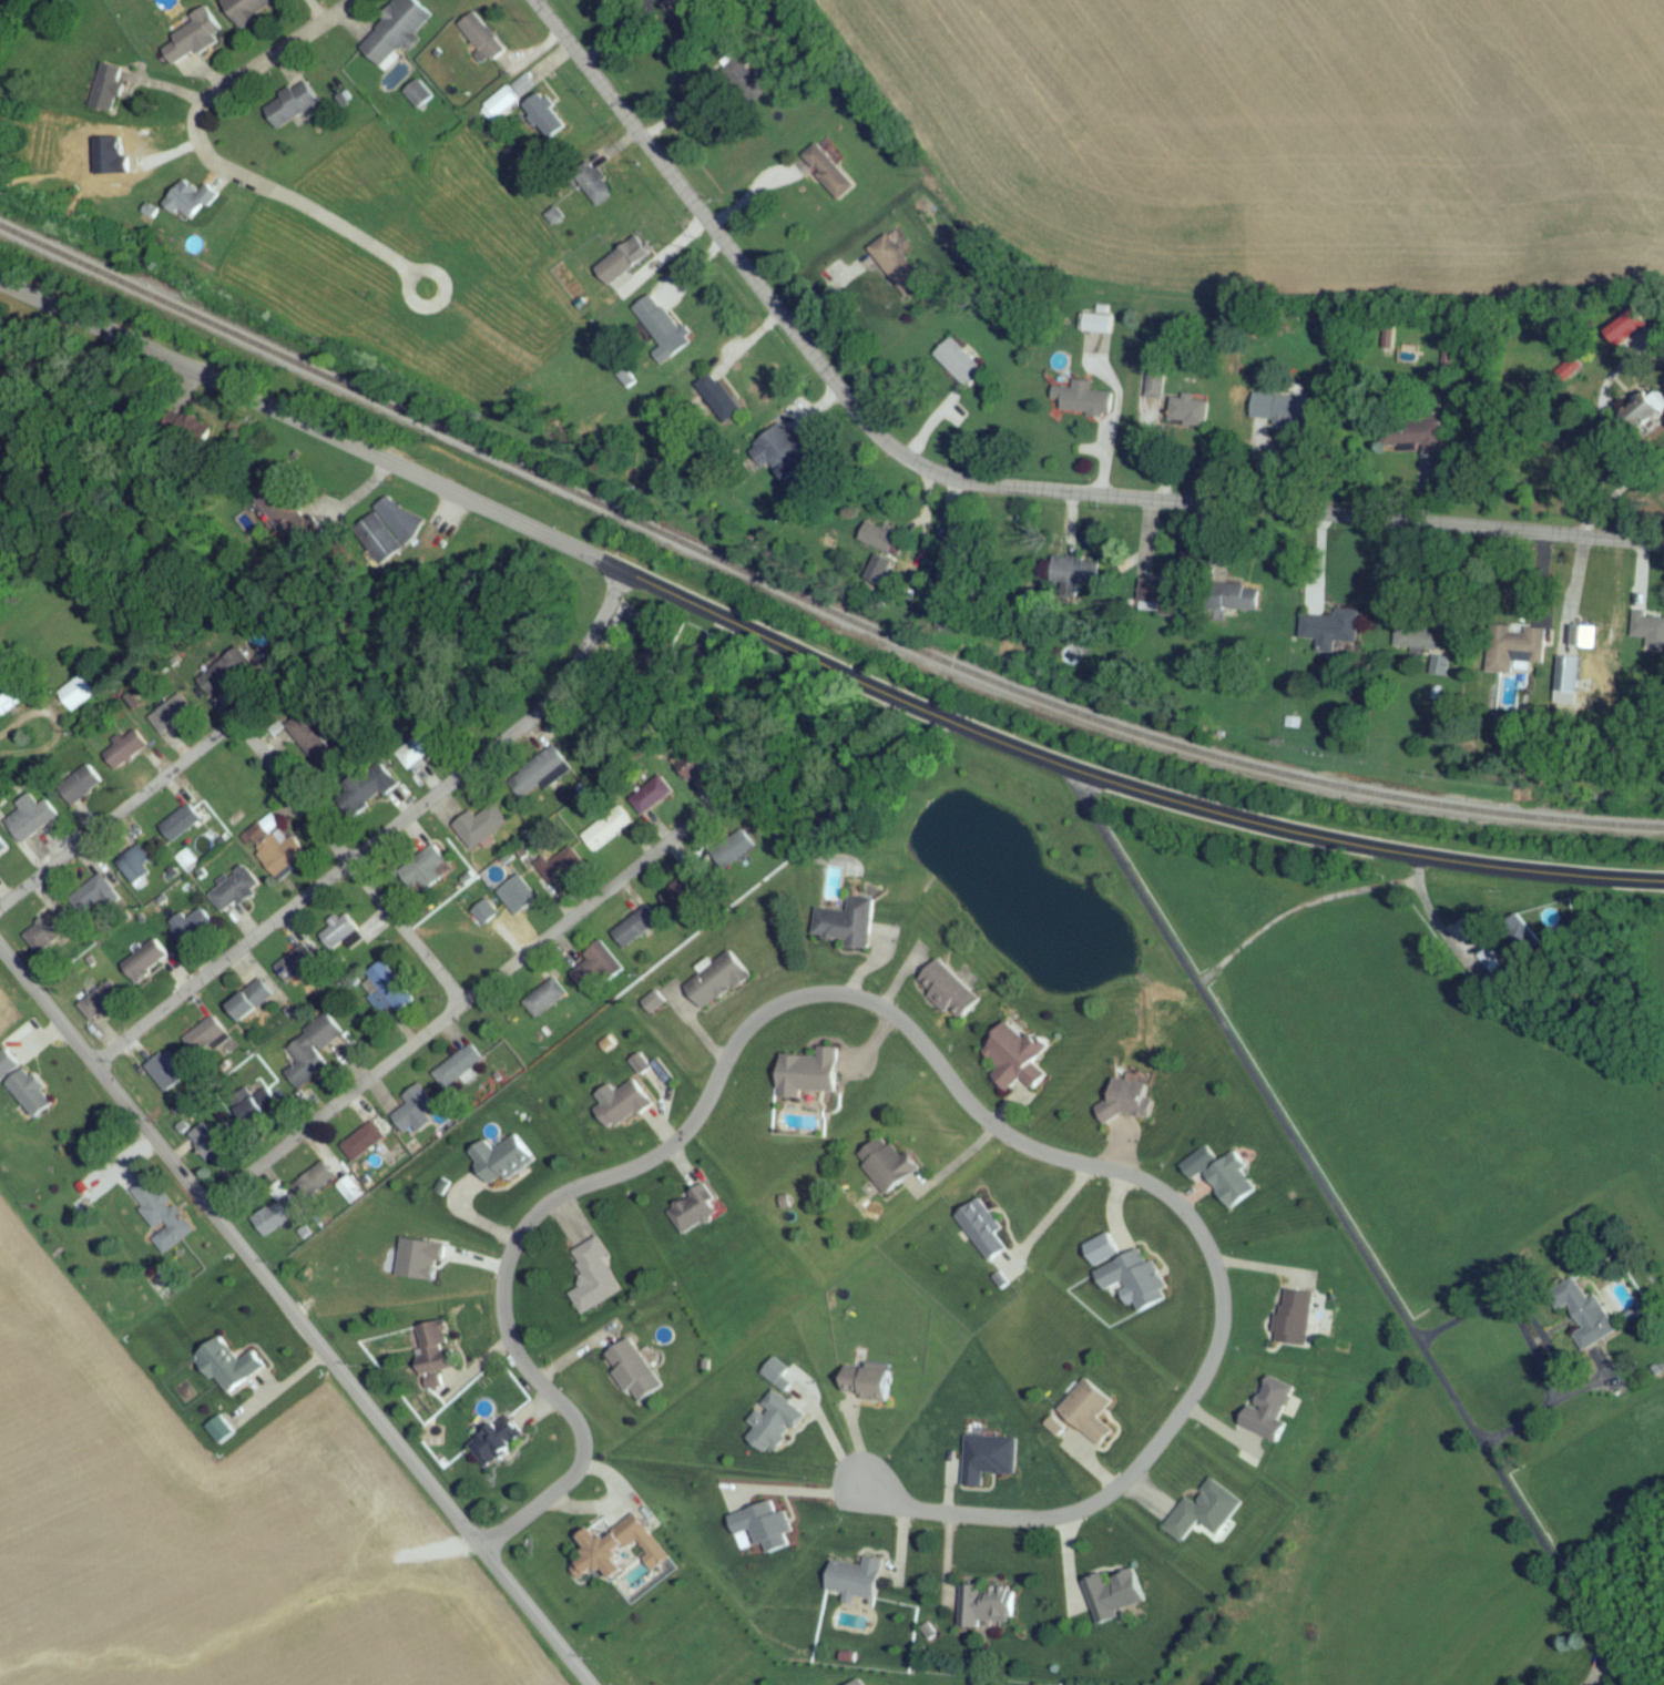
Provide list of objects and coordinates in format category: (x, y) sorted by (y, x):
building: (247, 11)
building: (395, 37)
building: (480, 43)
building: (190, 44)
building: (742, 82)
building: (105, 93)
building: (418, 100)
building: (501, 110)
building: (289, 111)
building: (543, 122)
road: (210, 165)
building: (828, 177)
building: (594, 193)
building: (188, 206)
building: (630, 261)
building: (895, 272)
building: (647, 318)
building: (1094, 329)
road: (1652, 355)
building: (958, 369)
building: (1150, 390)
building: (1082, 406)
building: (1182, 415)
building: (1284, 417)
building: (1642, 421)
building: (1428, 442)
building: (788, 468)
road: (983, 490)
building: (878, 542)
building: (951, 563)
building: (1072, 582)
building: (1158, 604)
building: (1239, 605)
railway: (808, 606)
building: (1329, 635)
building: (1647, 635)
building: (1578, 641)
building: (1417, 643)
building: (1512, 653)
road: (808, 661)
building: (76, 699)
building: (10, 705)
road: (29, 718)
building: (171, 722)
building: (309, 743)
road: (45, 748)
building: (125, 756)
building: (418, 756)
building: (690, 770)
building: (538, 779)
building: (79, 790)
building: (361, 801)
building: (650, 801)
road: (118, 821)
building: (28, 825)
building: (178, 828)
building: (481, 833)
building: (605, 834)
road: (382, 842)
building: (2, 852)
building: (277, 854)
road: (347, 870)
building: (134, 871)
building: (560, 871)
building: (425, 875)
building: (234, 897)
building: (677, 900)
building: (91, 901)
building: (515, 901)
road: (1294, 910)
road: (1433, 923)
building: (847, 930)
building: (190, 933)
building: (634, 933)
building: (50, 936)
building: (1520, 941)
building: (143, 968)
building: (296, 969)
building: (595, 973)
building: (716, 988)
building: (388, 993)
building: (948, 997)
building: (544, 1004)
building: (248, 1007)
road: (466, 1007)
building: (101, 1009)
building: (203, 1042)
road: (920, 1049)
building: (310, 1058)
building: (1012, 1063)
building: (6, 1070)
building: (458, 1073)
building: (166, 1078)
building: (806, 1080)
building: (29, 1099)
building: (1125, 1106)
building: (256, 1110)
building: (622, 1112)
building: (412, 1114)
building: (212, 1147)
building: (361, 1147)
building: (500, 1166)
building: (886, 1171)
building: (1231, 1186)
building: (313, 1188)
road: (1112, 1207)
building: (692, 1216)
building: (160, 1218)
road: (1044, 1219)
building: (275, 1223)
road: (1347, 1228)
building: (987, 1242)
building: (593, 1285)
building: (1134, 1285)
road: (292, 1319)
building: (1582, 1319)
building: (1293, 1324)
road: (1534, 1347)
building: (433, 1355)
building: (228, 1371)
road: (1603, 1376)
building: (632, 1378)
building: (865, 1388)
road: (1578, 1390)
building: (1086, 1418)
road: (831, 1443)
building: (494, 1448)
road: (857, 1448)
building: (987, 1464)
road: (794, 1490)
road: (947, 1490)
road: (614, 1510)
building: (1203, 1519)
road: (902, 1550)
building: (608, 1556)
road: (942, 1563)
building: (854, 1585)
building: (1111, 1602)
building: (984, 1612)
road: (1594, 1669)

